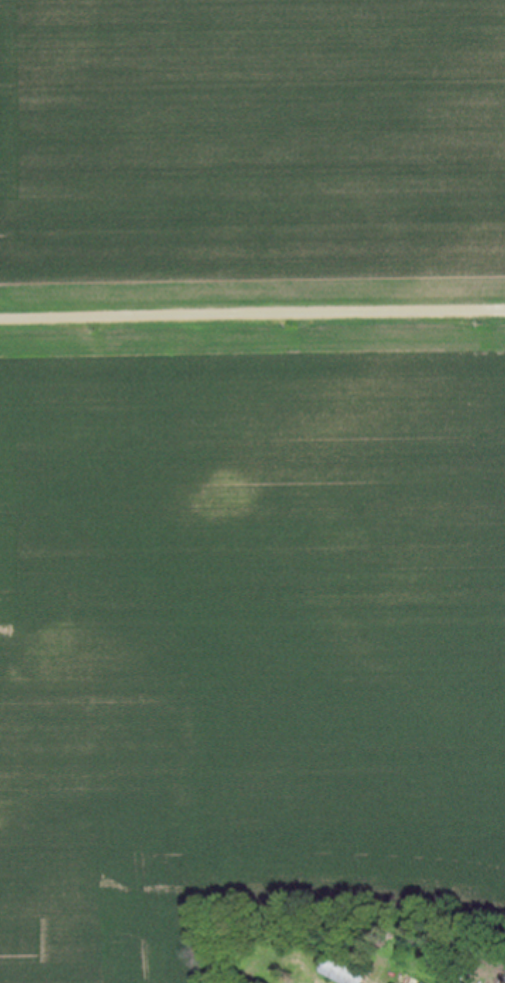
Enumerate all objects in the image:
crop: (252, 147)
road: (252, 309)
crop: (246, 652)

